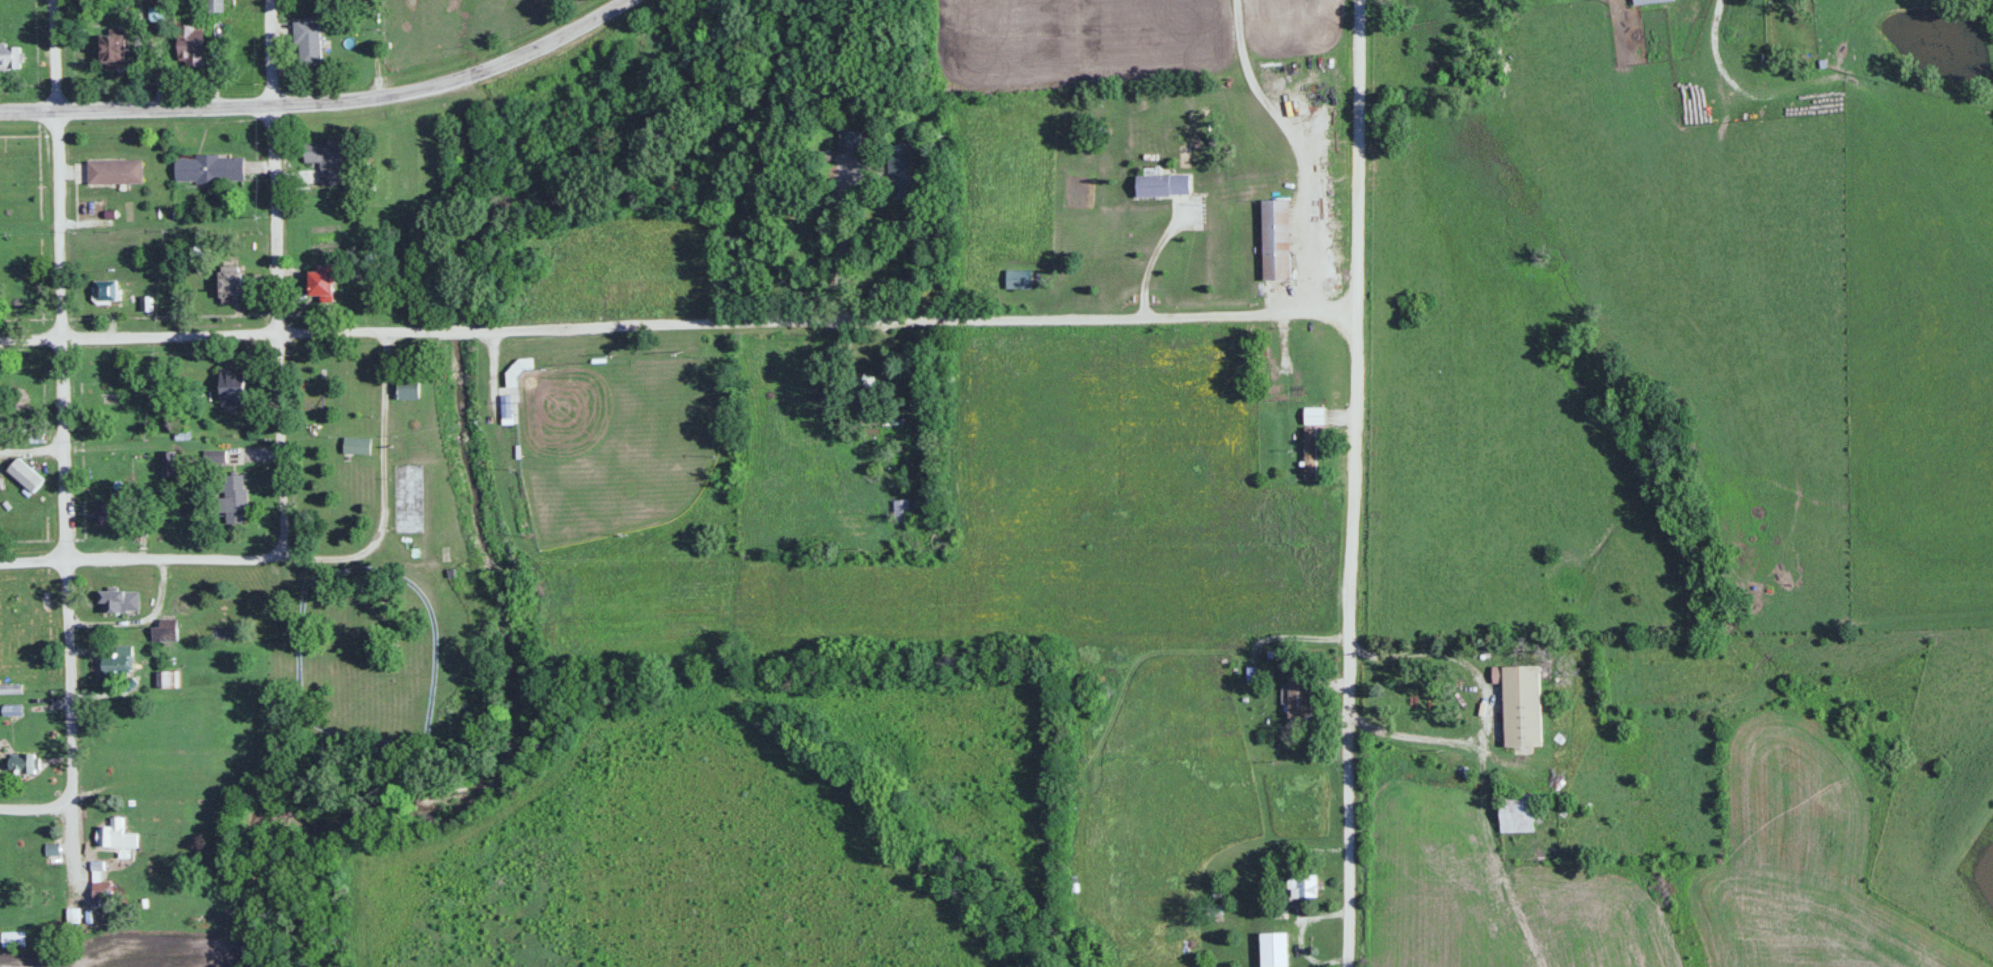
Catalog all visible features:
building: (1648, 1)
building: (215, 6)
building: (308, 40)
building: (191, 45)
building: (113, 49)
road: (271, 52)
road: (56, 55)
building: (9, 58)
road: (321, 101)
building: (325, 161)
building: (209, 169)
building: (115, 173)
building: (1161, 186)
building: (1277, 241)
building: (1018, 280)
building: (322, 284)
building: (231, 287)
building: (105, 292)
road: (677, 323)
road: (278, 329)
building: (518, 369)
building: (402, 387)
building: (863, 388)
building: (233, 389)
building: (1315, 417)
park: (613, 441)
building: (357, 446)
building: (1310, 454)
building: (215, 457)
building: (168, 465)
building: (25, 476)
road: (1354, 483)
building: (234, 500)
road: (65, 507)
building: (901, 511)
building: (111, 516)
road: (295, 555)
building: (119, 603)
building: (28, 604)
building: (113, 665)
building: (170, 680)
building: (11, 689)
building: (1299, 697)
building: (1521, 705)
building: (12, 711)
building: (22, 764)
road: (35, 807)
building: (1517, 812)
building: (115, 834)
building: (1303, 885)
building: (100, 890)
building: (1274, 949)
crop: (139, 950)

